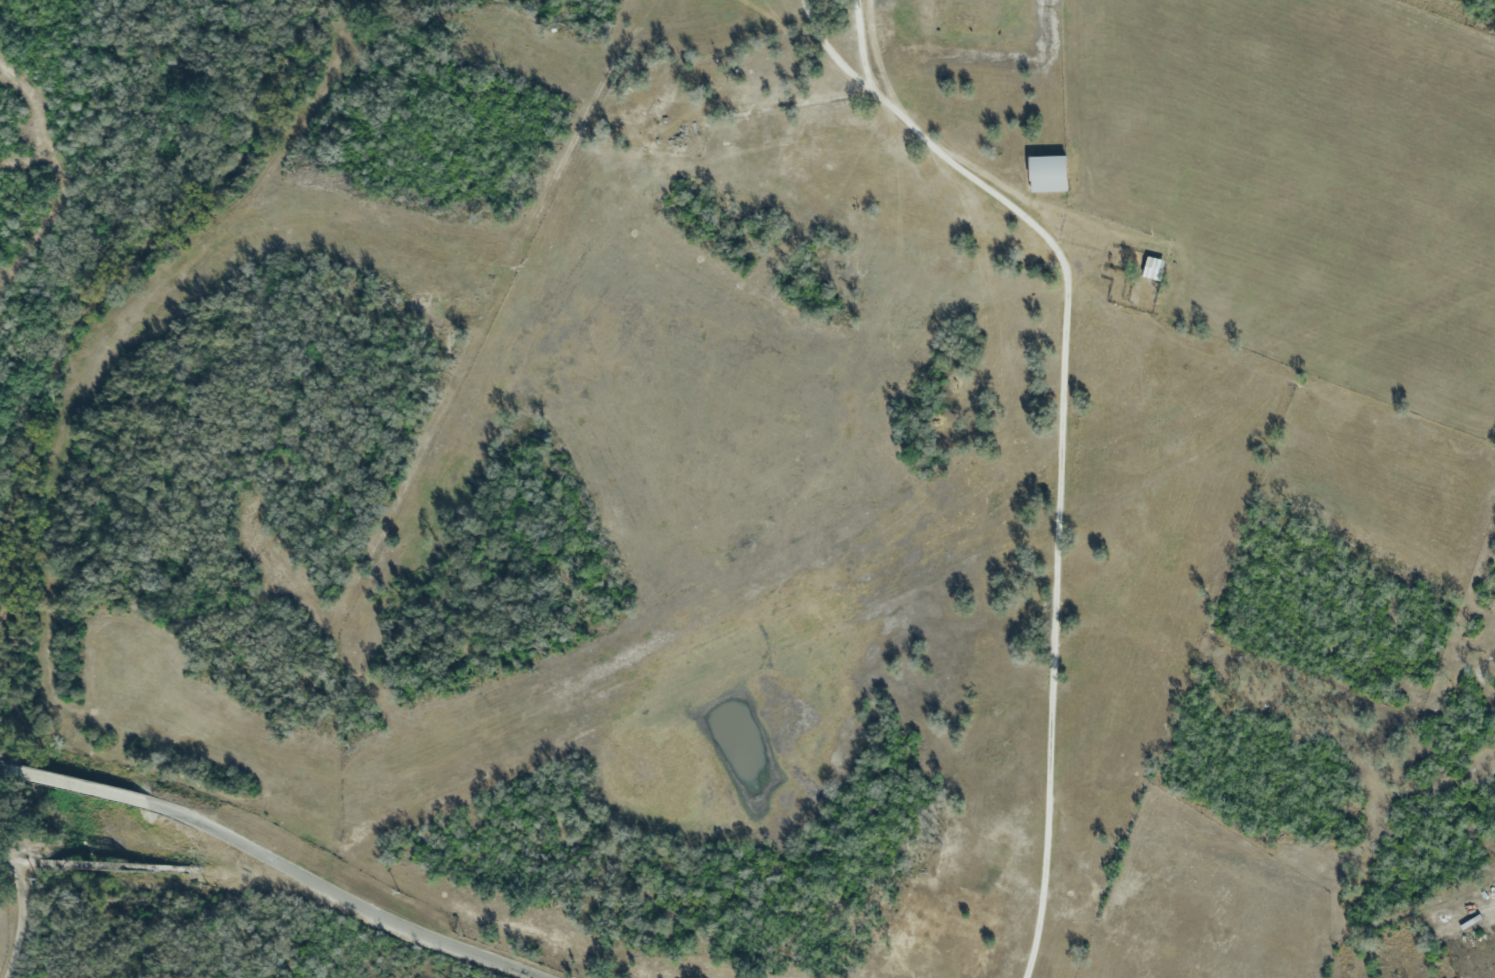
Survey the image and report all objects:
building: (1153, 268)
road: (1059, 434)
road: (73, 782)
road: (337, 894)
road: (20, 918)

